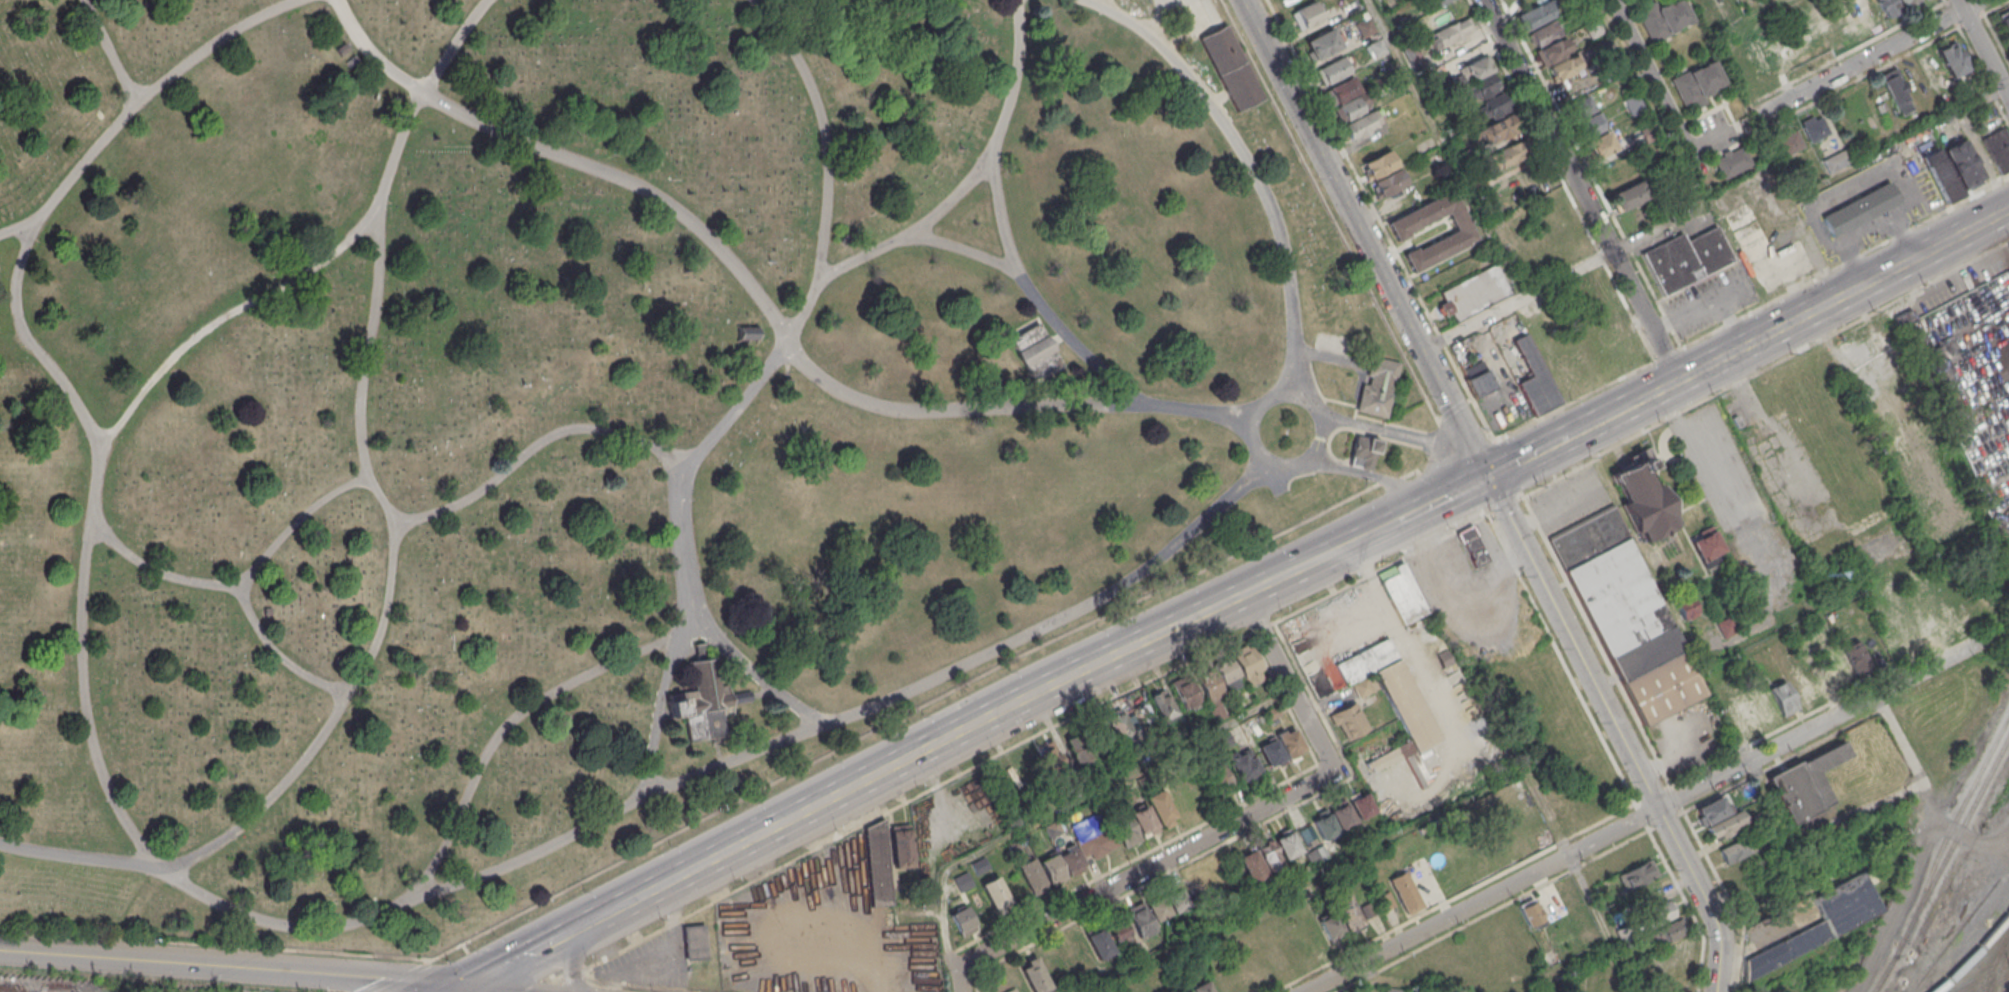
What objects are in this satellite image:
building: (1436, 2)
building: (1910, 4)
building: (1888, 6)
building: (1307, 14)
building: (1537, 14)
road: (1756, 14)
road: (1203, 15)
building: (1663, 17)
building: (1712, 17)
road: (1158, 19)
building: (2005, 20)
building: (1365, 27)
building: (1594, 28)
building: (1450, 32)
building: (1547, 32)
building: (1323, 43)
building: (1377, 47)
building: (1606, 47)
road: (1983, 49)
building: (1555, 50)
road: (110, 52)
building: (1414, 57)
road: (1864, 58)
building: (1953, 59)
building: (1477, 67)
building: (1563, 67)
building: (1229, 68)
building: (1334, 70)
building: (1433, 72)
building: (1458, 80)
building: (1696, 82)
road: (1658, 84)
building: (1483, 86)
building: (1895, 89)
building: (1343, 90)
road: (1218, 98)
building: (1632, 103)
building: (1496, 105)
building: (1581, 106)
building: (1880, 106)
building: (1352, 108)
building: (1402, 120)
building: (1363, 123)
building: (1590, 125)
road: (1548, 126)
building: (1814, 128)
building: (1454, 130)
building: (1499, 131)
building: (1790, 142)
building: (1600, 144)
building: (1656, 148)
road: (1446, 149)
building: (1998, 149)
building: (1511, 153)
building: (1836, 160)
building: (1733, 161)
building: (1379, 164)
building: (1964, 164)
road: (1252, 166)
building: (1616, 171)
building: (1672, 173)
building: (1941, 175)
road: (1755, 179)
building: (1476, 181)
building: (1388, 182)
road: (63, 187)
parking lot: (1928, 188)
road: (1887, 190)
road: (1878, 194)
building: (1629, 195)
road: (1869, 199)
road: (1807, 208)
road: (1941, 208)
building: (1861, 209)
road: (1847, 211)
parking lot: (1916, 211)
road: (1838, 216)
road: (1830, 220)
road: (26, 222)
road: (1004, 227)
road: (909, 229)
building: (1399, 230)
road: (1900, 236)
road: (1364, 237)
parking lot: (1866, 238)
road: (960, 247)
parking lot: (1829, 254)
building: (1685, 258)
road: (1851, 262)
road: (1844, 263)
building: (1474, 293)
road: (1517, 300)
road: (763, 301)
road: (1810, 311)
road: (1645, 315)
building: (1616, 326)
building: (749, 333)
road: (1056, 339)
building: (1033, 351)
road: (1666, 354)
road: (1329, 358)
building: (1934, 372)
building: (1531, 375)
building: (1481, 383)
road: (754, 385)
building: (1376, 389)
road: (1279, 396)
road: (1453, 409)
road: (1551, 412)
park: (608, 421)
road: (1589, 423)
road: (1406, 435)
road: (534, 446)
building: (1361, 453)
road: (1527, 455)
road: (1372, 476)
traffic signals: (1487, 476)
road: (1459, 489)
building: (1642, 497)
road: (1549, 508)
road: (1405, 515)
road: (1362, 536)
building: (1706, 545)
road: (393, 546)
building: (1472, 547)
road: (158, 569)
road: (245, 580)
building: (1402, 593)
building: (1685, 606)
building: (1627, 614)
building: (1929, 618)
building: (1726, 625)
building: (1802, 638)
building: (1856, 656)
building: (1442, 657)
building: (1247, 665)
building: (1226, 675)
building: (1805, 682)
building: (1206, 683)
building: (1364, 685)
building: (1183, 692)
road: (1879, 694)
building: (1783, 696)
building: (1391, 697)
building: (705, 701)
building: (1161, 704)
building: (1217, 711)
road: (658, 713)
building: (1271, 713)
road: (516, 716)
building: (1349, 721)
road: (986, 723)
building: (1117, 725)
road: (1617, 730)
building: (1223, 738)
building: (1290, 743)
building: (1074, 751)
building: (1271, 753)
building: (1243, 763)
building: (1052, 765)
power substation: (1887, 772)
building: (1218, 775)
building: (1806, 781)
building: (1144, 782)
building: (1128, 793)
building: (1109, 799)
road: (1771, 801)
road: (1070, 803)
building: (1360, 805)
building: (1161, 808)
building: (1713, 810)
building: (1341, 816)
building: (1144, 820)
building: (1324, 826)
building: (1727, 826)
building: (1052, 828)
road: (1221, 829)
building: (1125, 830)
railway: (1946, 831)
building: (1095, 843)
building: (901, 845)
building: (1286, 845)
building: (1013, 848)
building: (1733, 851)
building: (1316, 854)
building: (1269, 856)
building: (1071, 859)
railway: (1941, 861)
building: (877, 864)
building: (979, 865)
building: (1251, 865)
building: (1052, 869)
building: (1636, 873)
building: (1032, 876)
road: (1528, 876)
building: (963, 881)
building: (995, 892)
building: (1406, 892)
building: (1174, 898)
building: (1384, 900)
road: (1592, 900)
building: (1368, 908)
building: (1157, 909)
building: (1345, 911)
road: (613, 912)
building: (1531, 912)
building: (1657, 913)
road: (359, 920)
building: (963, 920)
building: (1139, 921)
building: (1821, 921)
building: (1330, 926)
building: (1117, 930)
building: (1669, 930)
building: (1625, 932)
building: (695, 941)
building: (1097, 943)
road: (575, 953)
railway: (1973, 953)
road: (528, 954)
railway: (1993, 961)
road: (173, 962)
building: (1187, 962)
railway: (1998, 971)
building: (1032, 975)
railway: (1982, 977)
road: (403, 980)
railway: (1992, 982)
road: (355, 983)
building: (1200, 987)
traffic signals: (461, 990)
building: (1010, 990)
building: (1393, 990)
road: (459, 991)
road: (472, 991)

